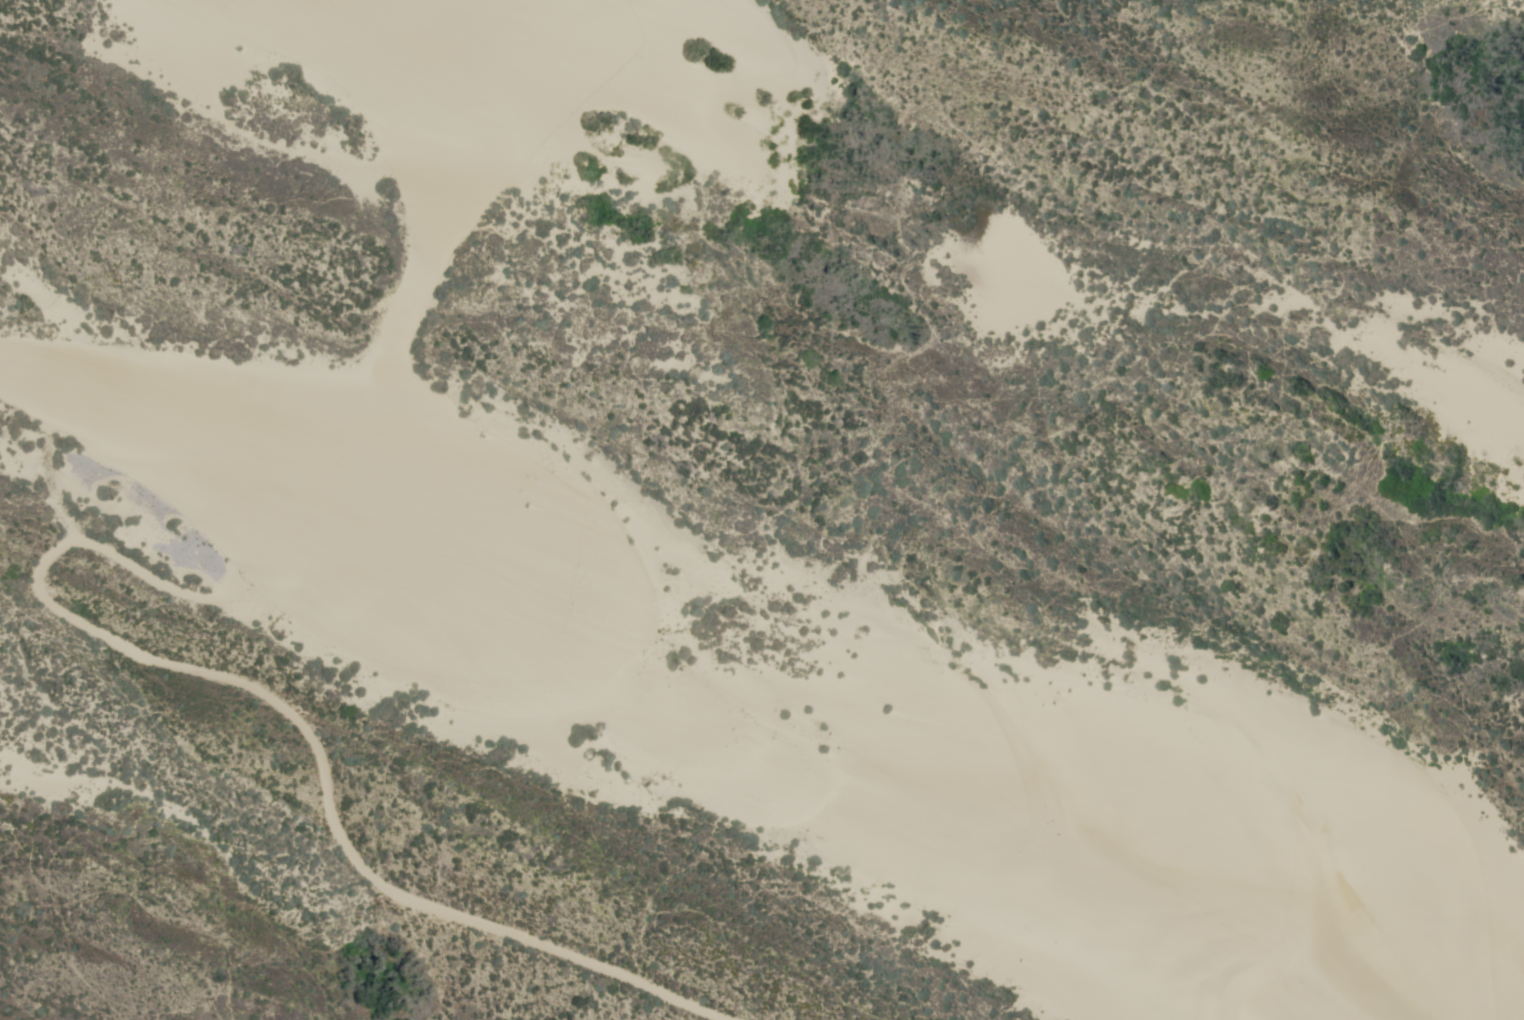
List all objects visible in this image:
road: (34, 402)
park: (762, 510)
road: (300, 722)

